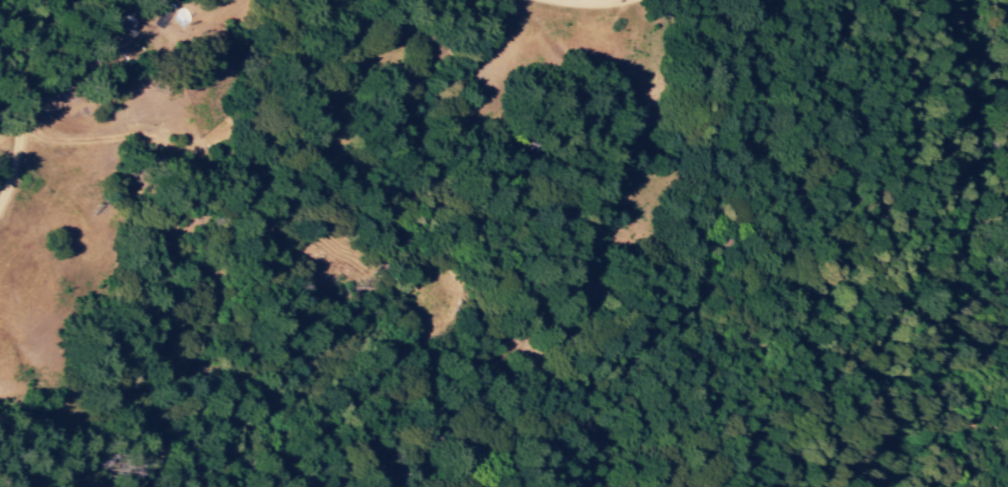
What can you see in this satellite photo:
road: (600, 3)
road: (29, 103)

